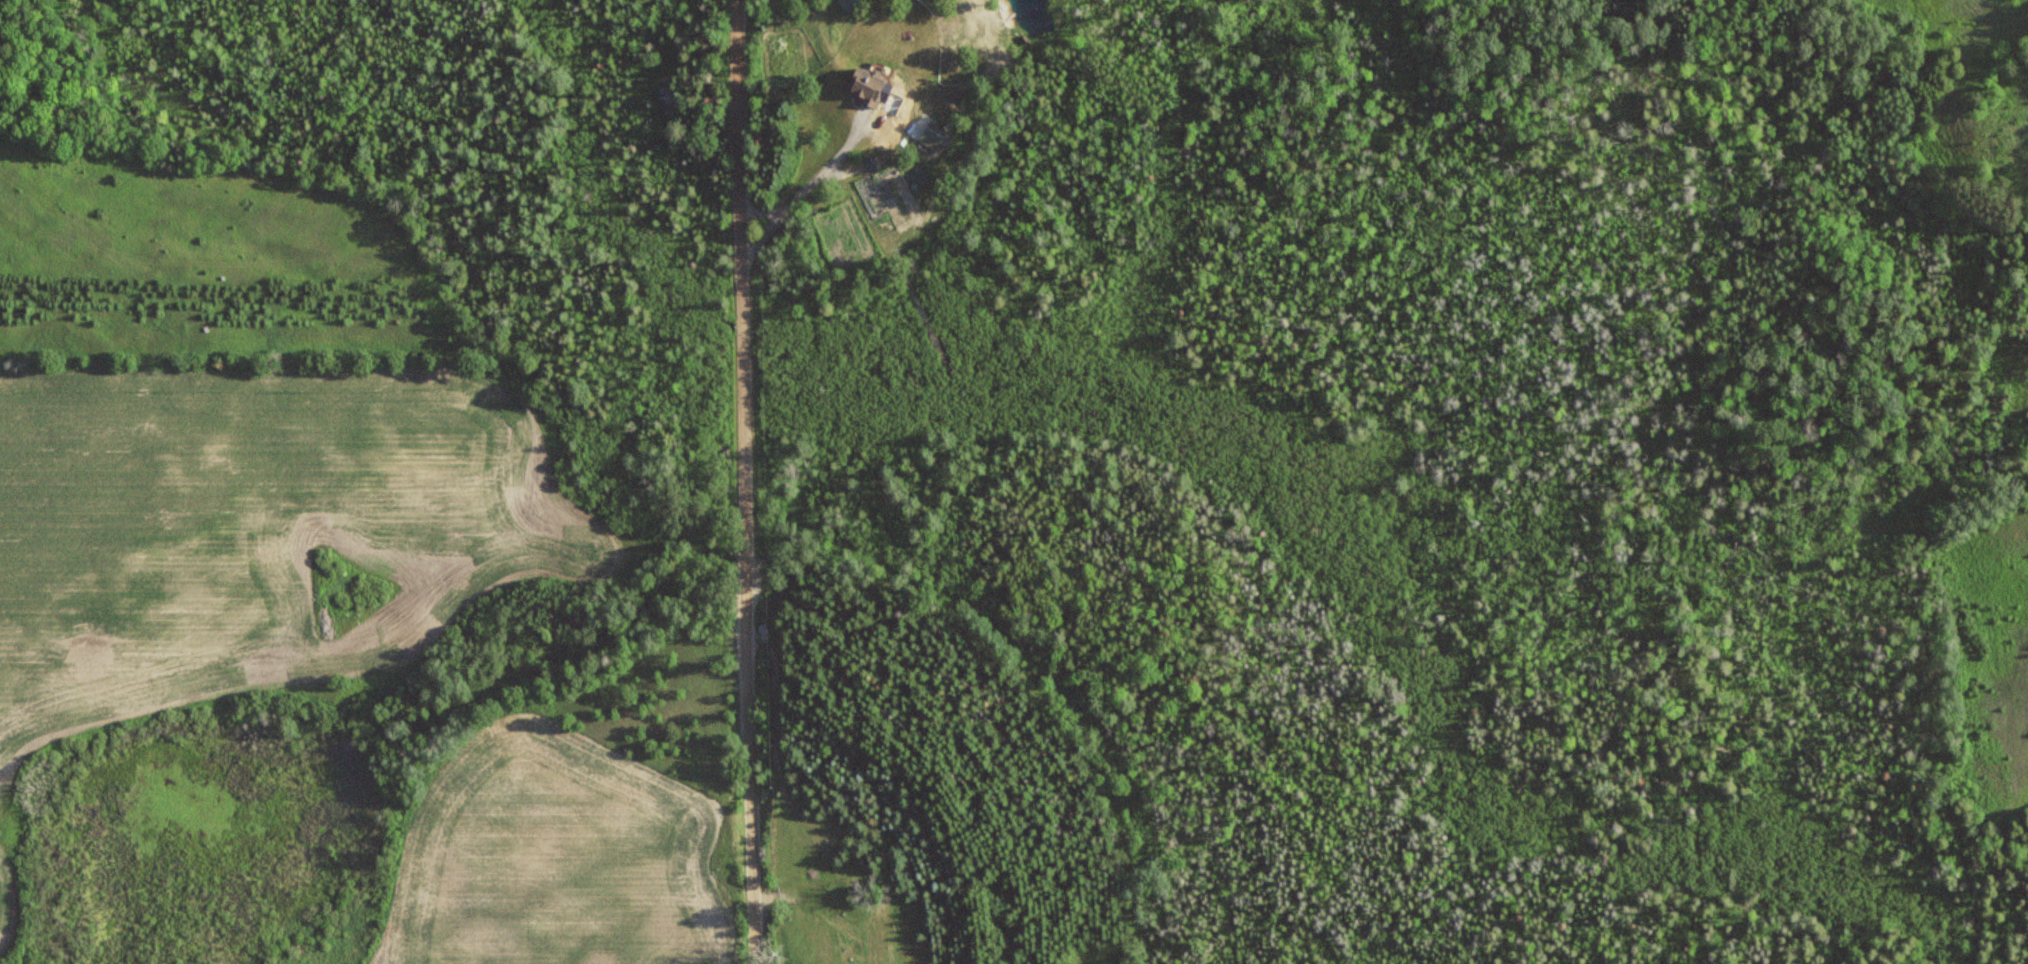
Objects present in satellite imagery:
road: (691, 45)
building: (865, 87)
building: (666, 97)
building: (934, 136)
road: (745, 481)

